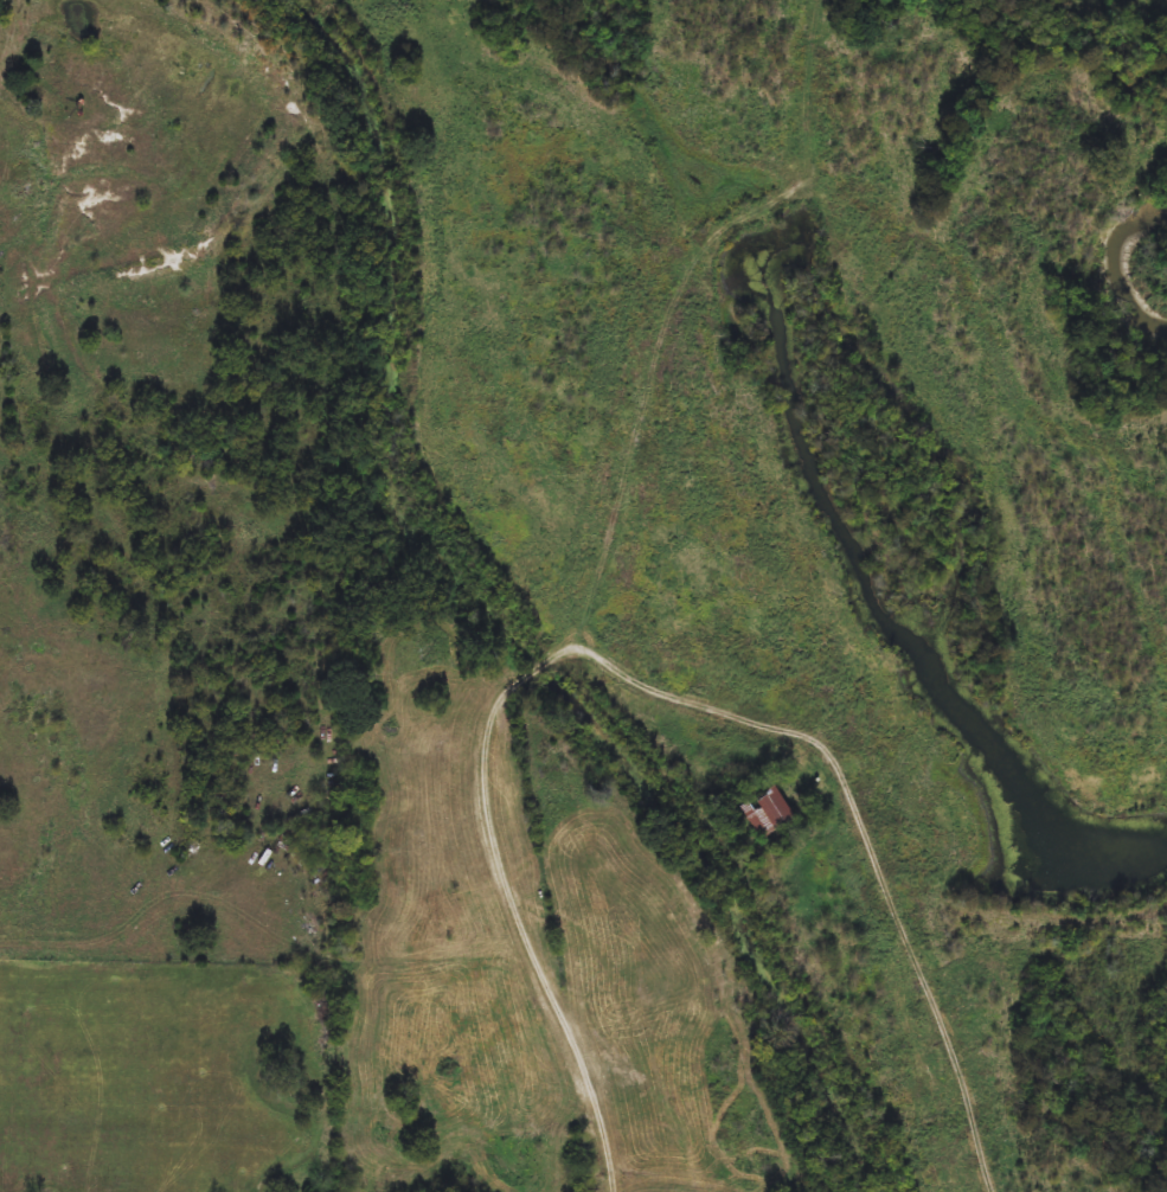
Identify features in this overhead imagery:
river: (1126, 264)
road: (480, 770)
building: (770, 810)

